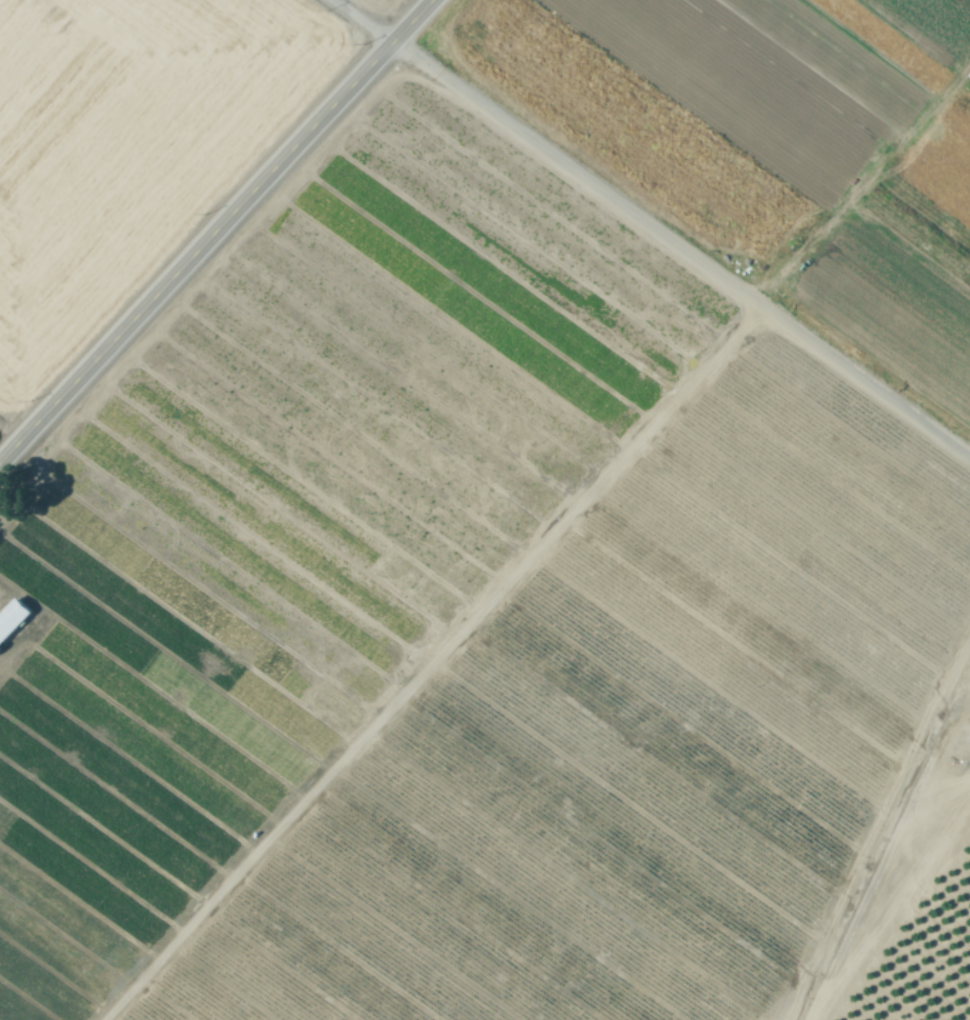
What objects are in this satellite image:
road: (362, 21)
crop: (140, 148)
road: (216, 230)
road: (681, 249)
road: (9, 431)
crop: (513, 541)
building: (12, 618)

